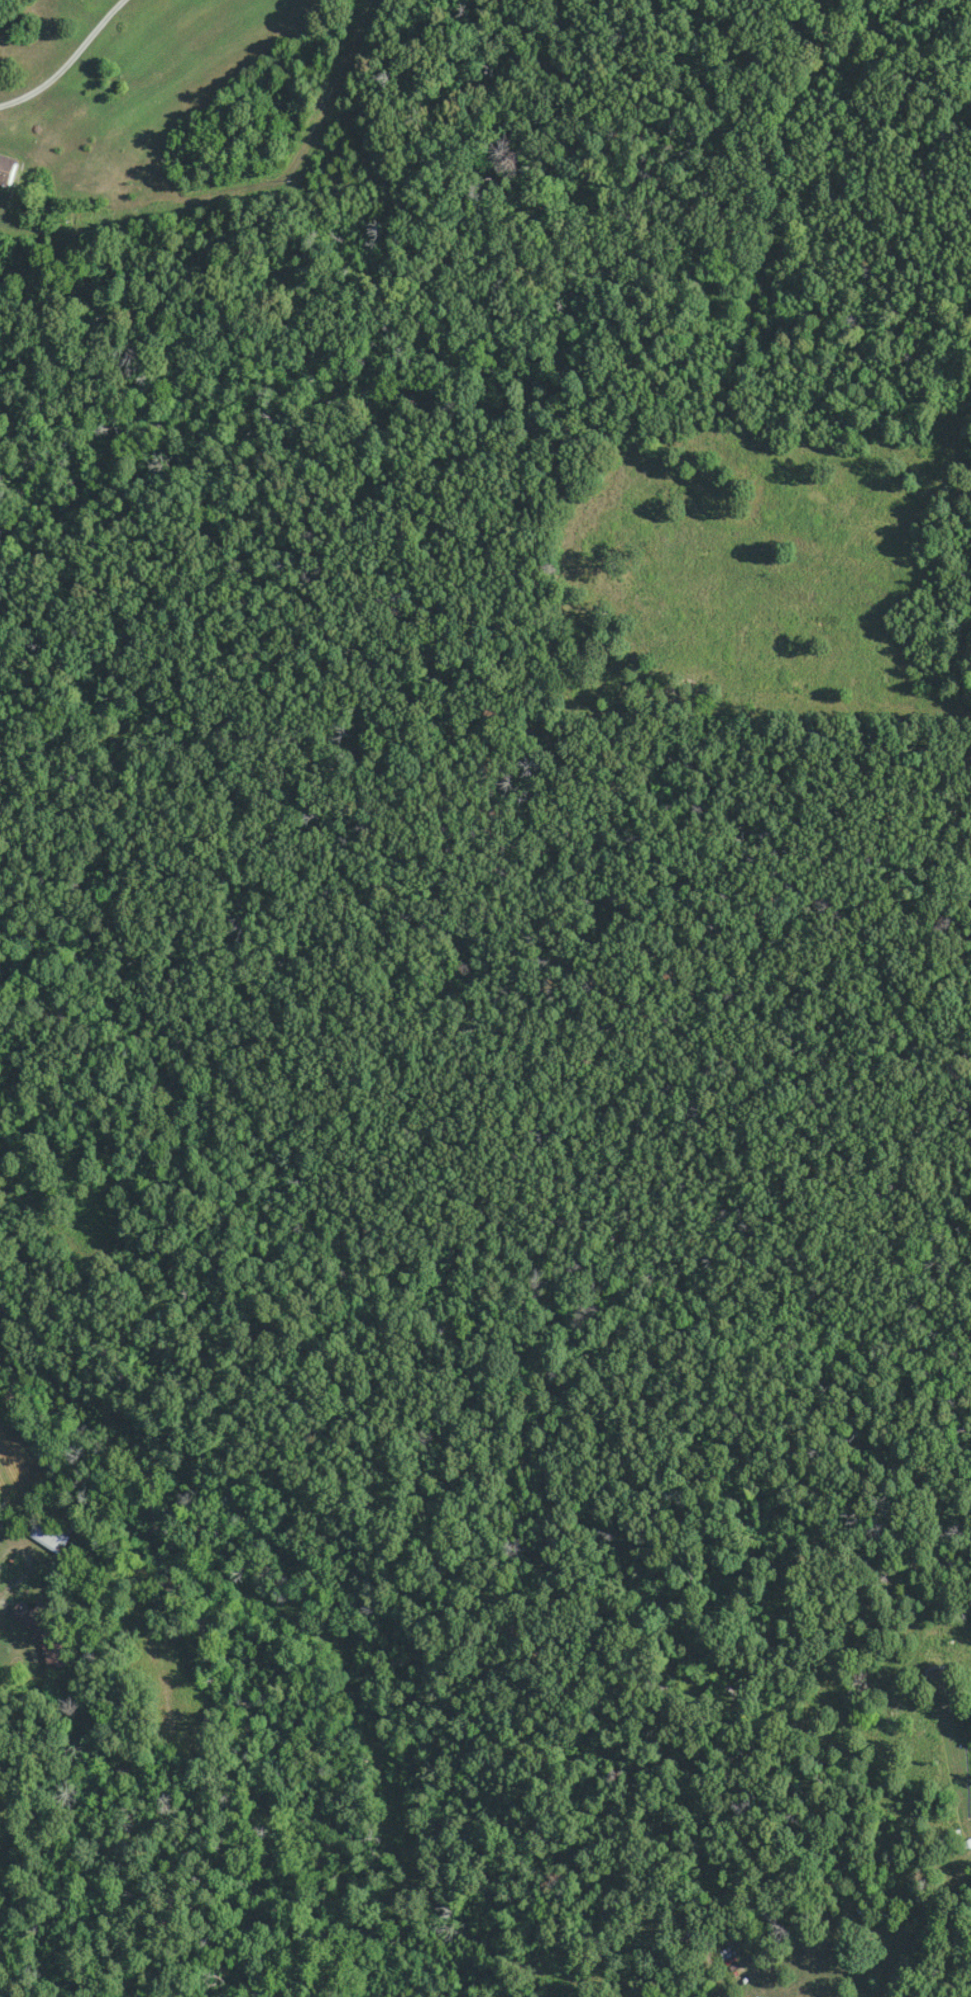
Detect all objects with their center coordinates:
road: (66, 60)
building: (6, 168)
building: (46, 1533)
road: (24, 1564)
building: (39, 1632)

